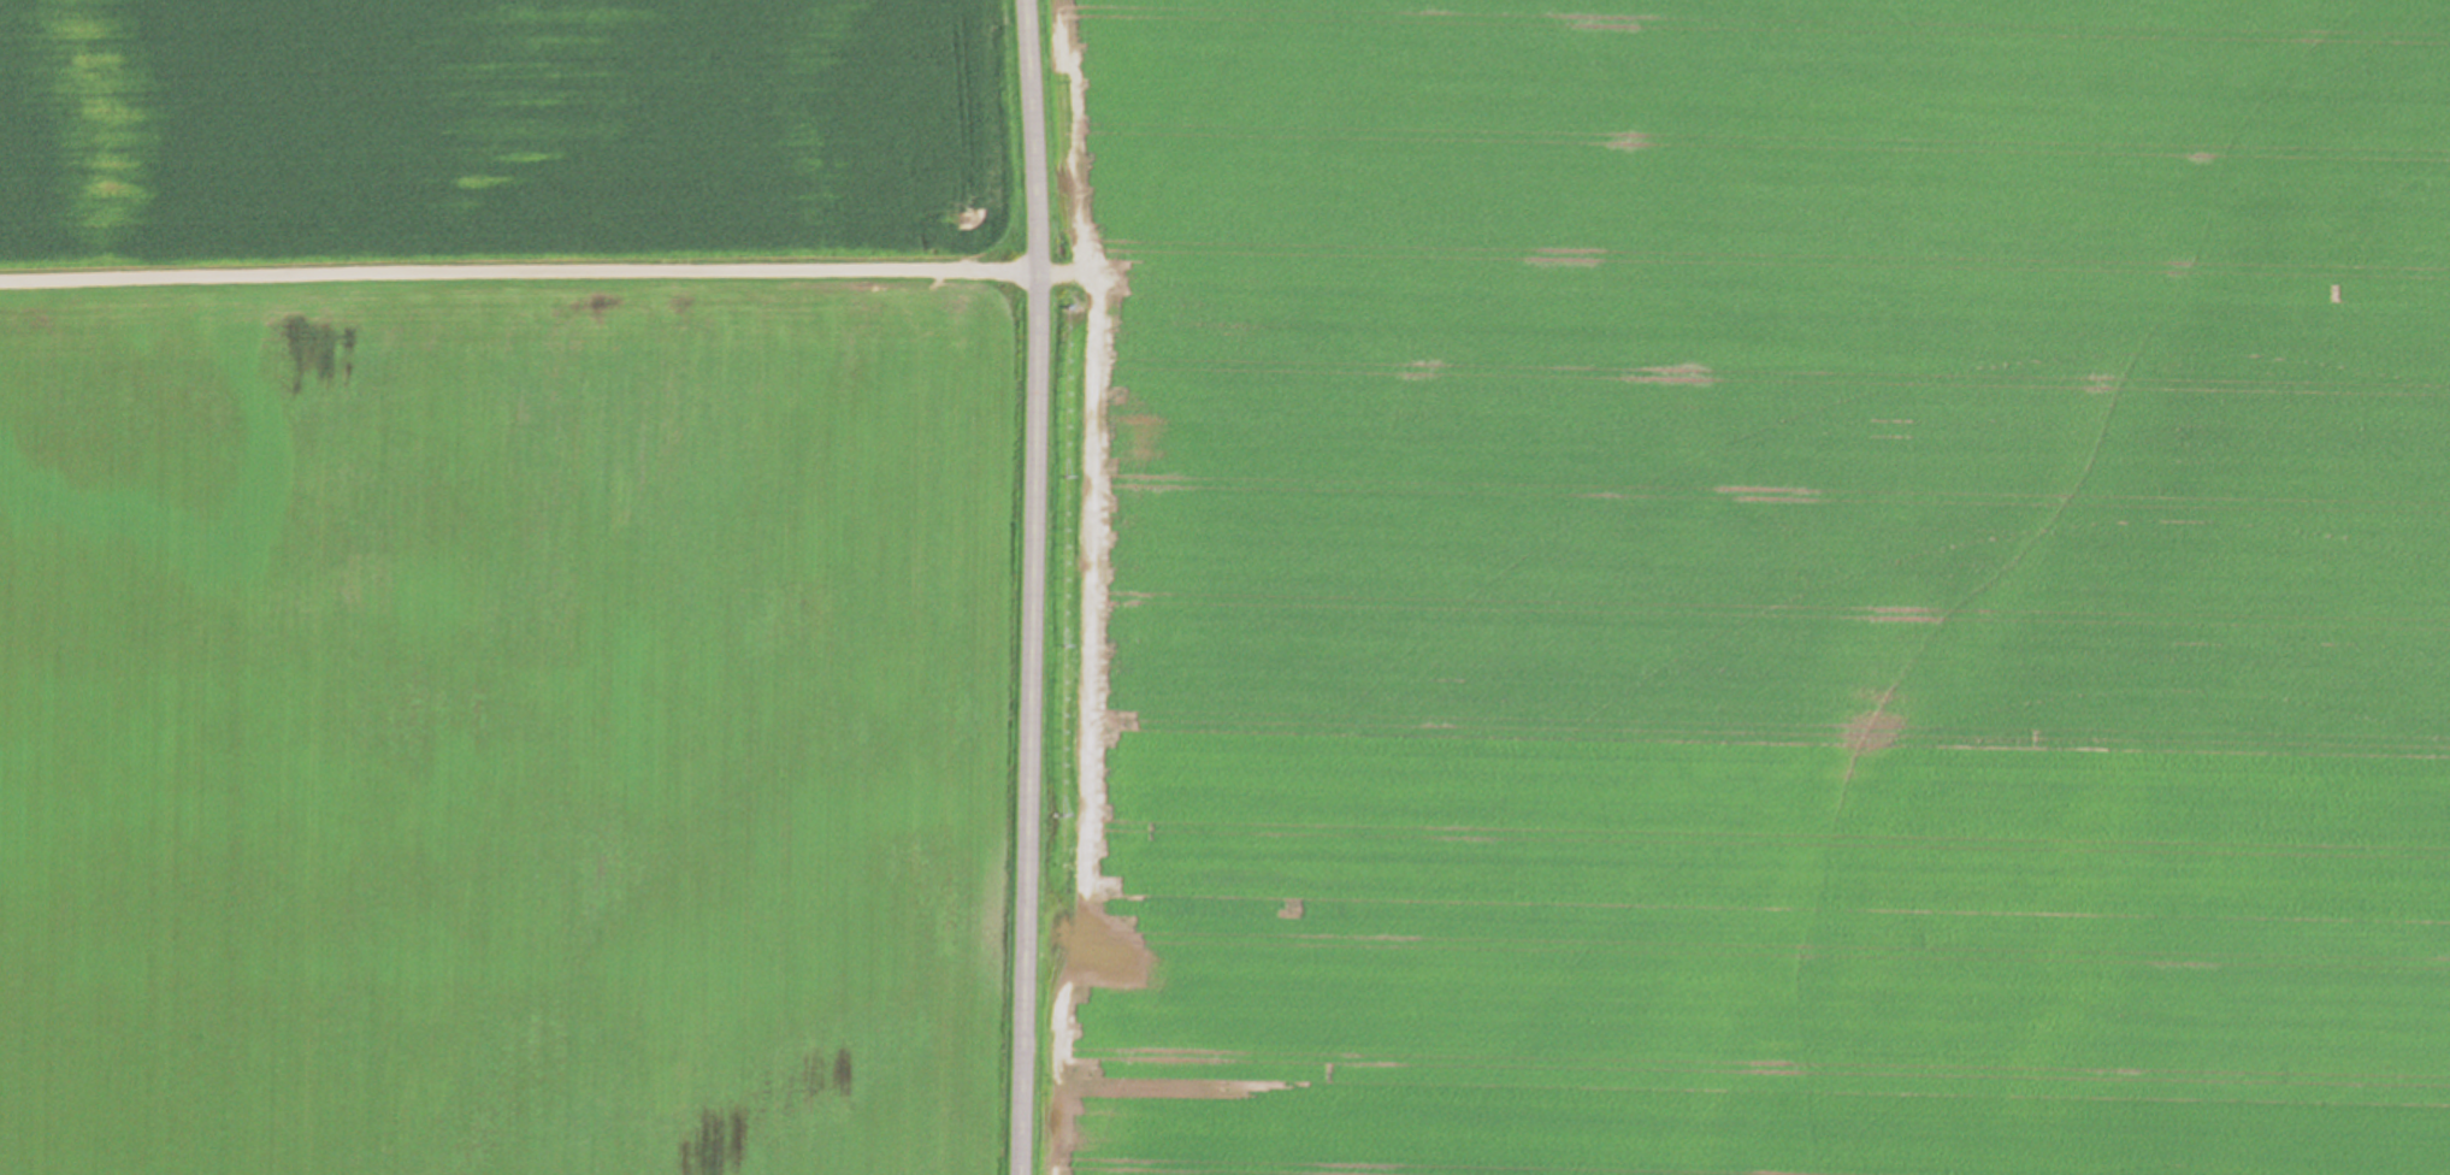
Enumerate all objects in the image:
road: (519, 271)
road: (1032, 586)

